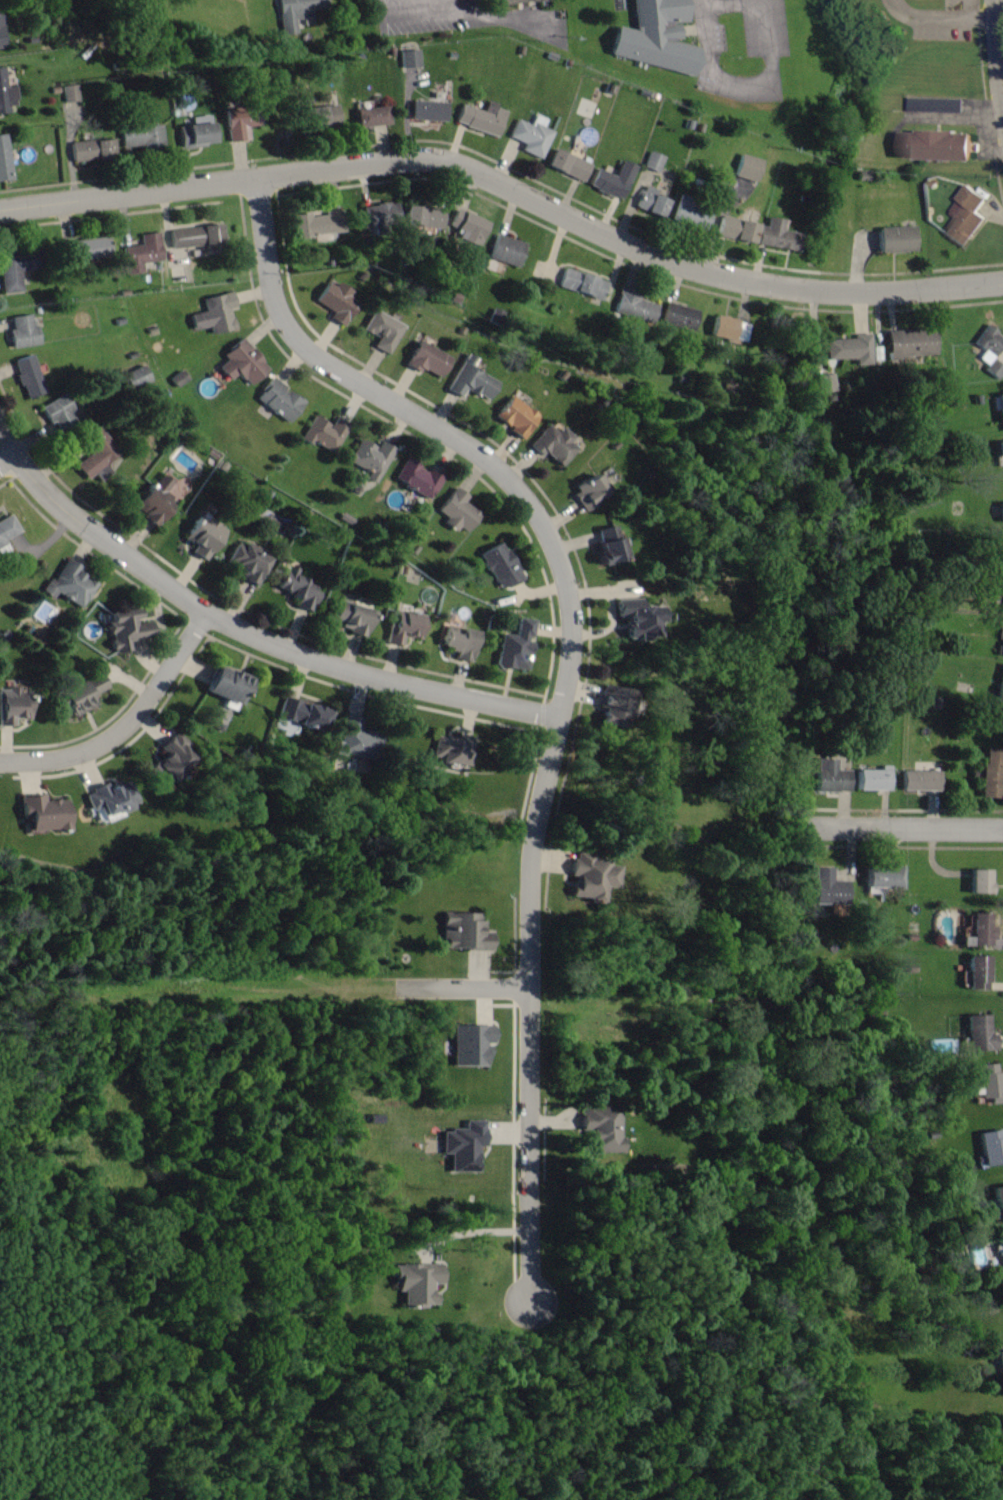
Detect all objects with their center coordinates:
building: (518, 1)
road: (731, 6)
road: (969, 10)
building: (296, 12)
road: (940, 18)
building: (1, 37)
building: (655, 37)
road: (997, 54)
building: (409, 58)
road: (740, 87)
road: (1001, 87)
building: (70, 93)
building: (5, 96)
building: (427, 110)
building: (322, 116)
building: (370, 116)
building: (481, 118)
building: (240, 122)
building: (194, 134)
building: (532, 135)
building: (140, 136)
building: (935, 147)
building: (90, 149)
building: (4, 158)
building: (653, 161)
building: (567, 164)
building: (747, 167)
building: (612, 179)
road: (506, 185)
building: (650, 201)
building: (692, 214)
building: (380, 215)
building: (424, 216)
building: (964, 216)
building: (318, 223)
building: (467, 226)
building: (736, 228)
building: (197, 235)
building: (777, 235)
building: (897, 239)
building: (82, 248)
building: (506, 250)
building: (141, 252)
building: (581, 283)
building: (336, 301)
building: (634, 307)
building: (214, 313)
building: (679, 316)
building: (729, 329)
building: (381, 330)
building: (22, 331)
building: (911, 342)
building: (850, 348)
building: (990, 350)
building: (426, 357)
building: (241, 362)
building: (28, 377)
building: (470, 382)
building: (827, 383)
building: (278, 400)
building: (998, 406)
building: (57, 413)
building: (515, 416)
building: (324, 432)
building: (553, 444)
building: (999, 447)
building: (95, 451)
building: (370, 458)
road: (10, 466)
building: (416, 478)
building: (589, 491)
building: (160, 495)
building: (457, 511)
building: (1001, 511)
building: (7, 529)
building: (202, 536)
building: (608, 546)
building: (245, 562)
building: (500, 565)
building: (70, 584)
building: (296, 588)
building: (351, 617)
building: (635, 619)
road: (250, 625)
building: (404, 626)
building: (125, 630)
building: (458, 641)
building: (515, 646)
road: (563, 665)
building: (225, 685)
building: (1000, 685)
building: (79, 694)
building: (12, 705)
building: (611, 706)
road: (128, 725)
building: (354, 739)
building: (452, 749)
building: (169, 760)
building: (992, 772)
building: (830, 777)
building: (874, 779)
building: (922, 780)
building: (109, 800)
building: (42, 814)
road: (900, 816)
building: (590, 877)
building: (884, 878)
building: (980, 881)
building: (828, 888)
building: (978, 930)
building: (463, 932)
building: (978, 973)
building: (980, 1034)
building: (470, 1045)
building: (990, 1083)
building: (598, 1129)
building: (463, 1146)
building: (991, 1147)
building: (999, 1202)
building: (416, 1284)
building: (999, 1363)

